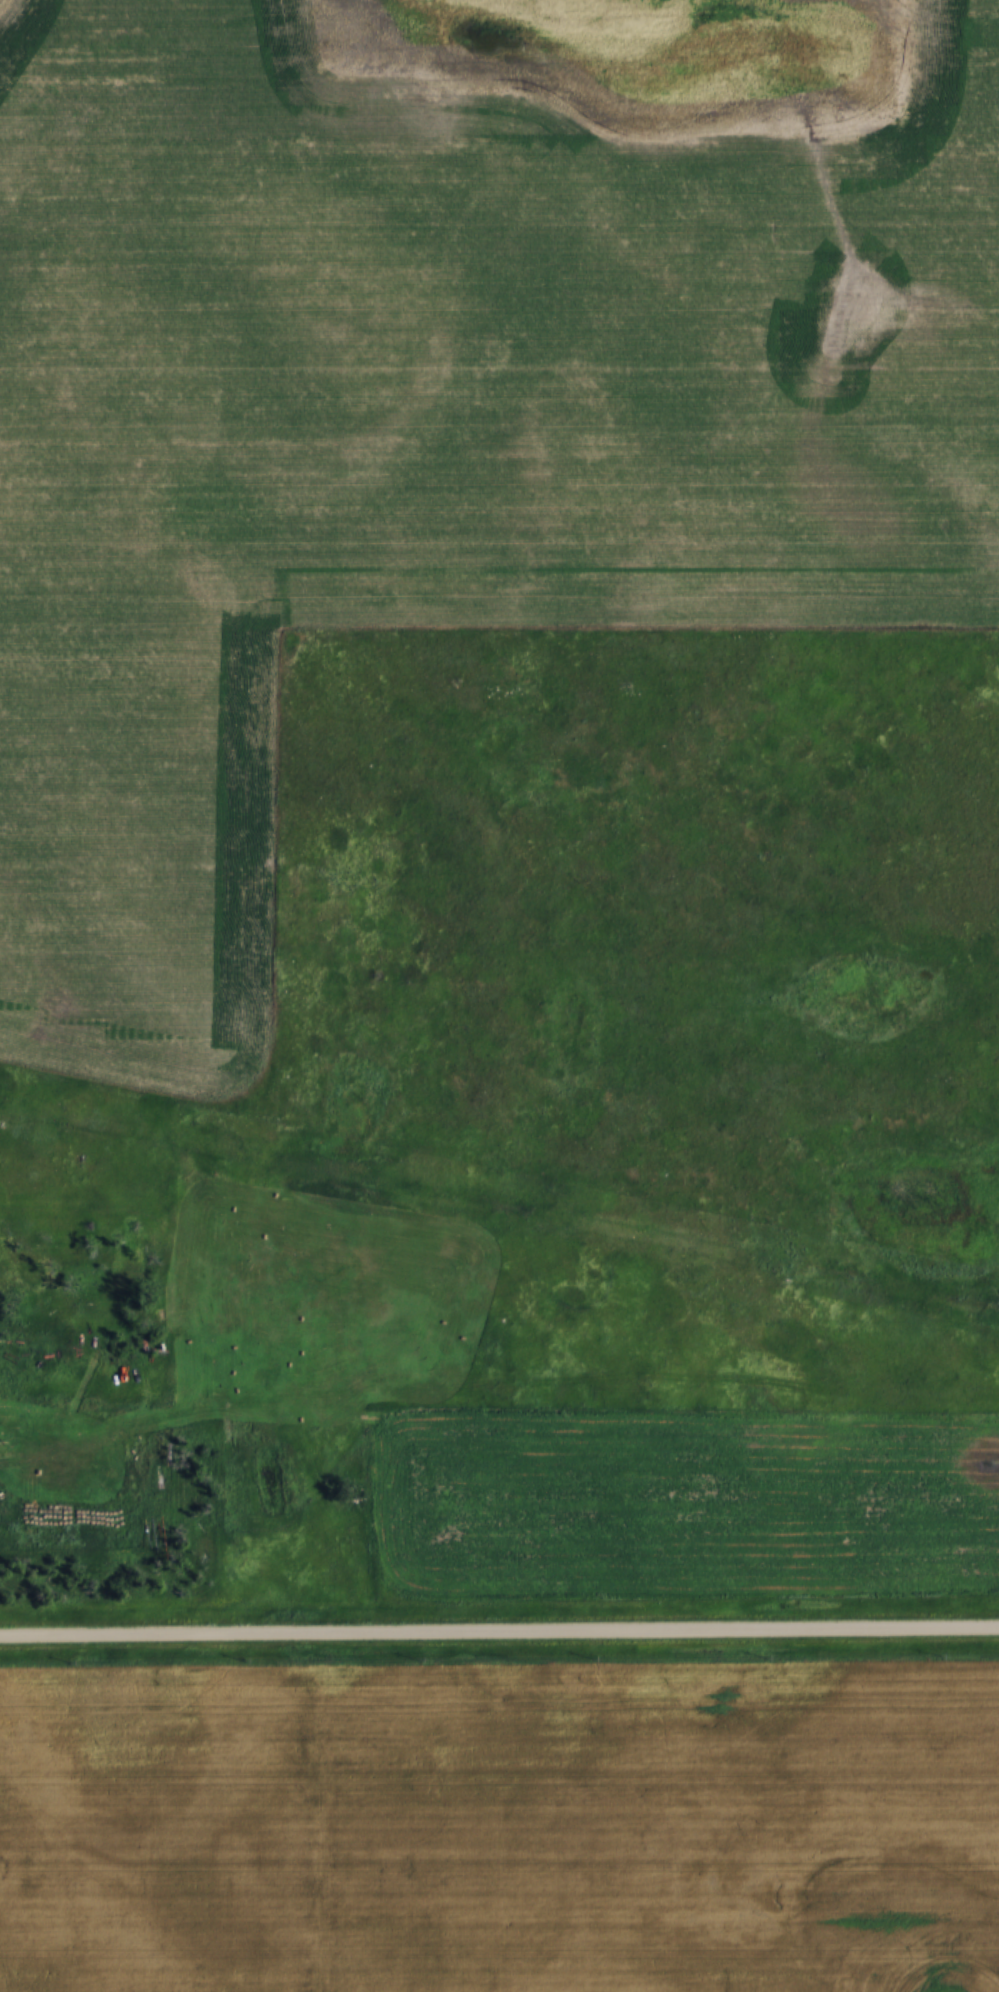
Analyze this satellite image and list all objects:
road: (499, 1629)

